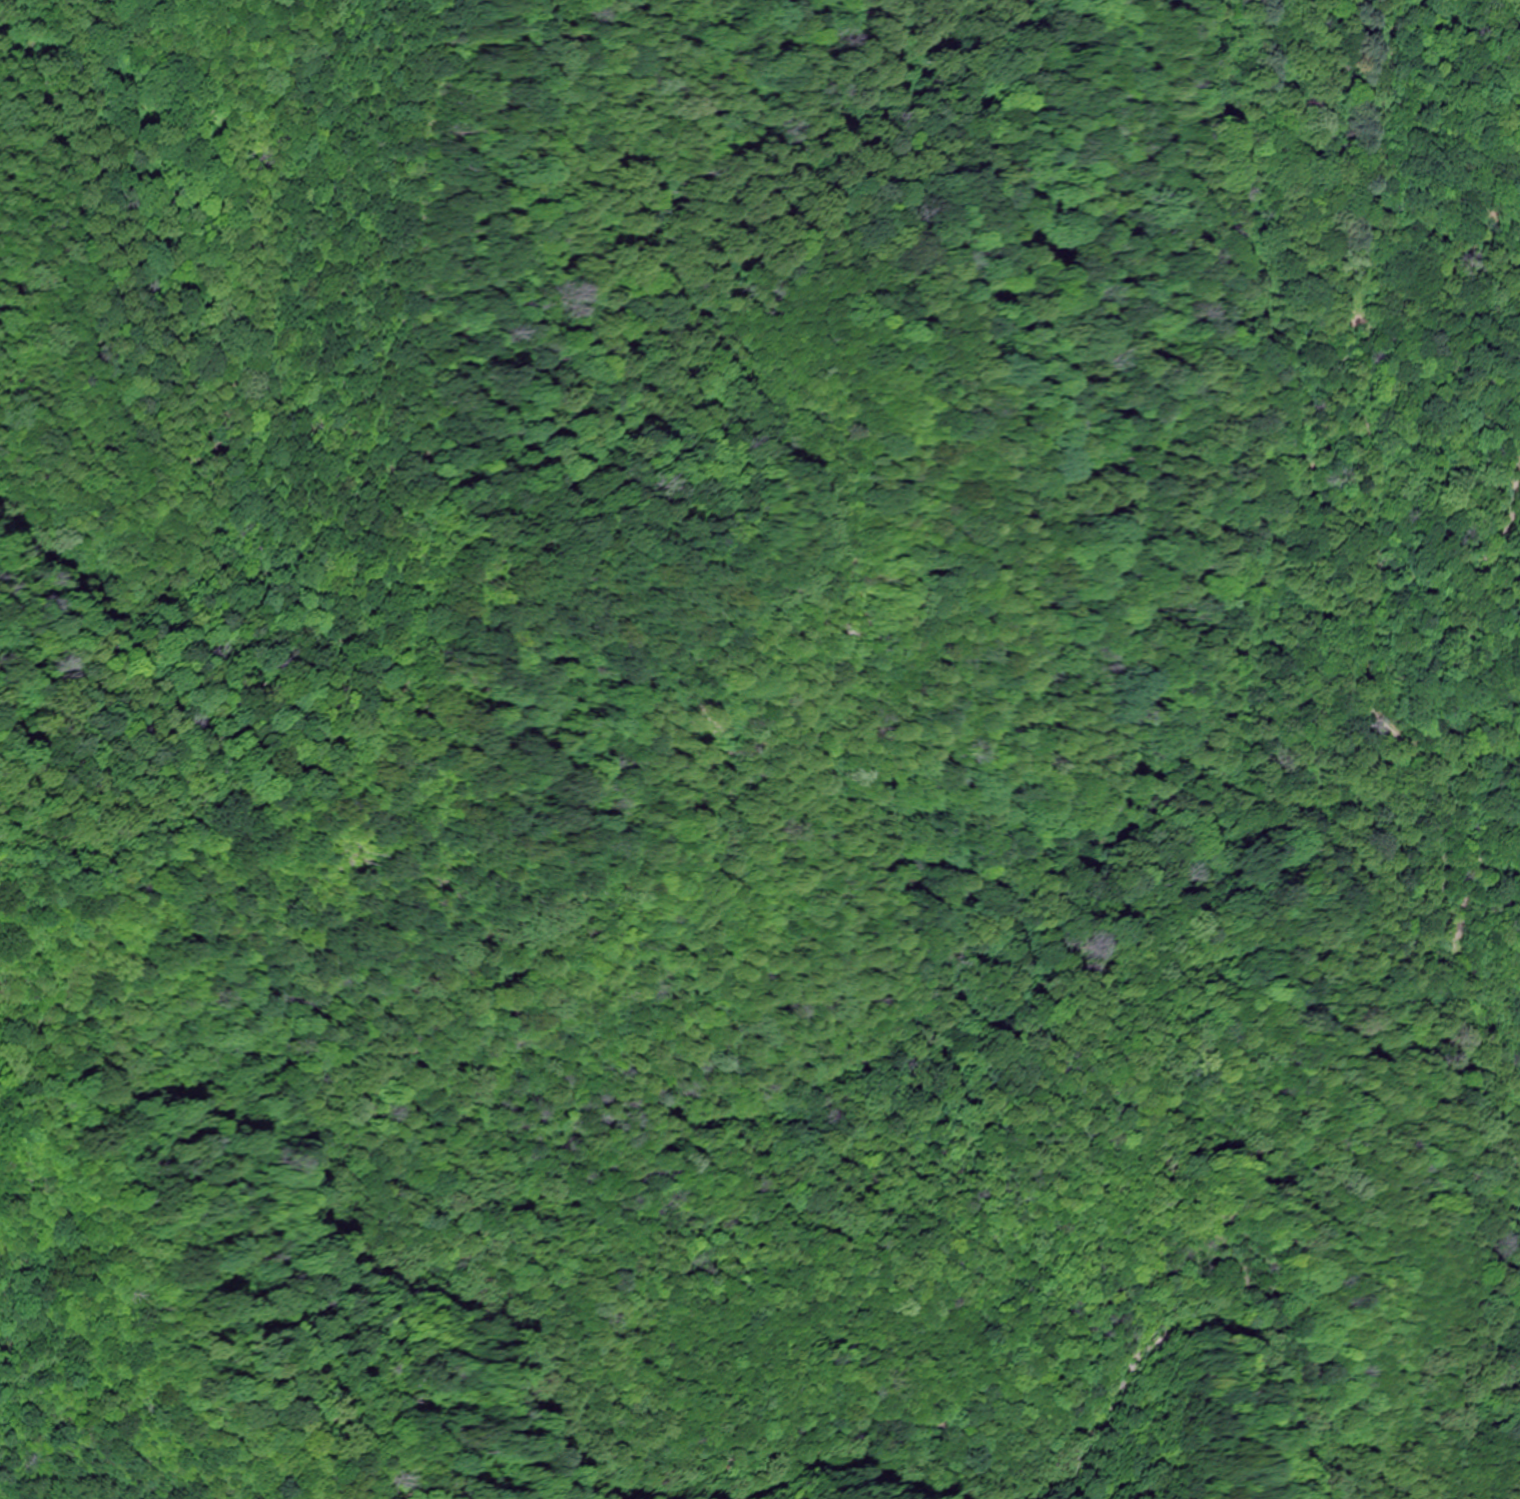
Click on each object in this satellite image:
road: (567, 299)
road: (232, 350)
road: (1361, 399)
road: (1476, 566)

